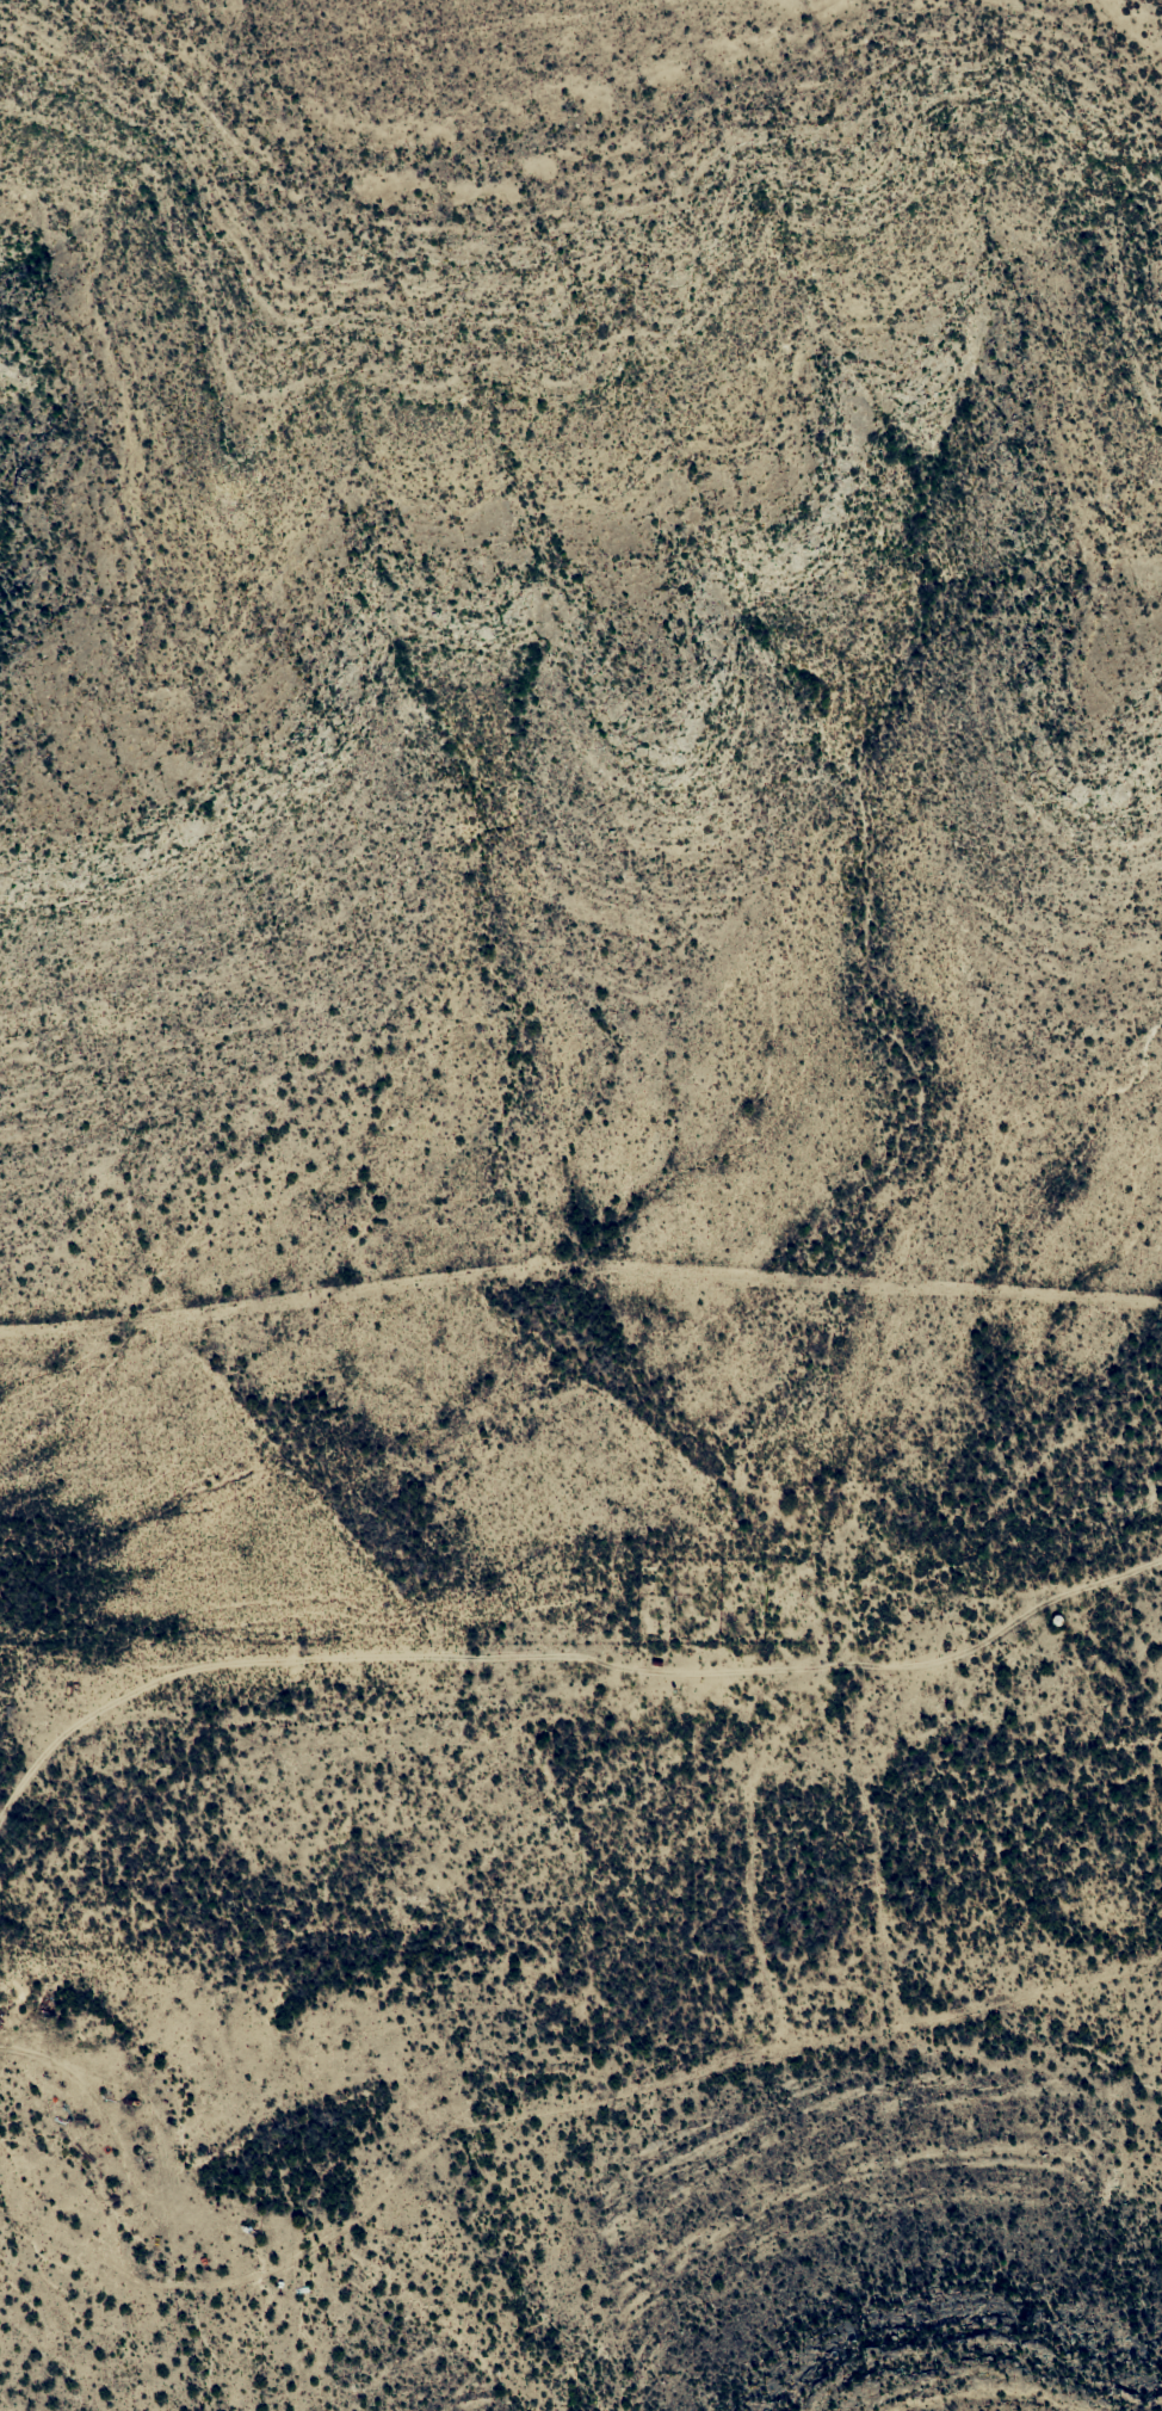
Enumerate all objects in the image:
road: (564, 1655)

